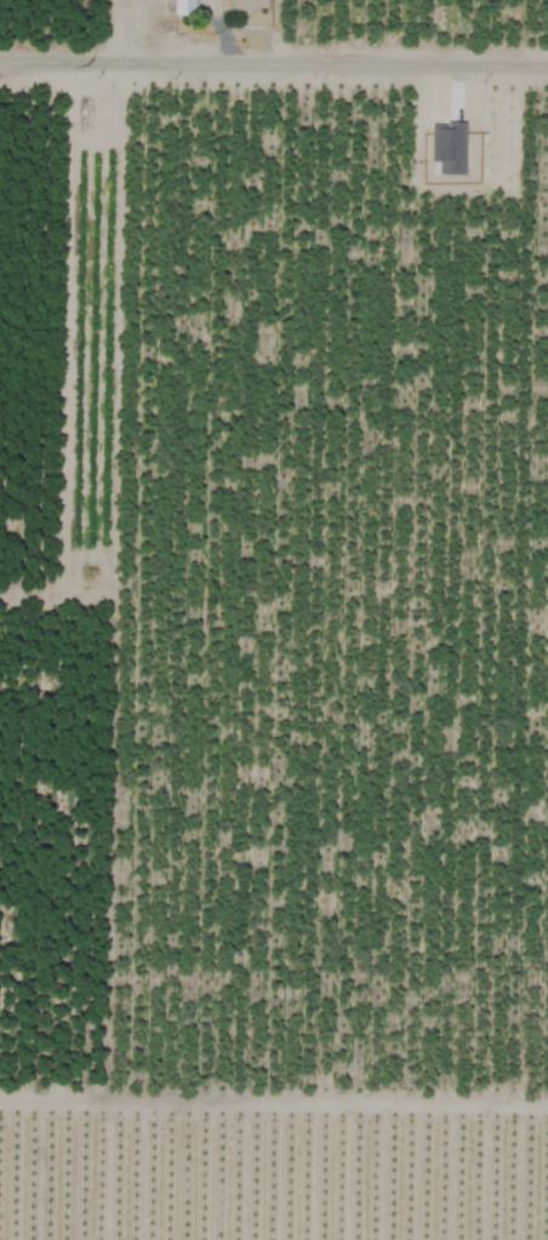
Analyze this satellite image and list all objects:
building: (246, 5)
building: (178, 6)
road: (273, 59)
building: (447, 148)
crop: (274, 619)

